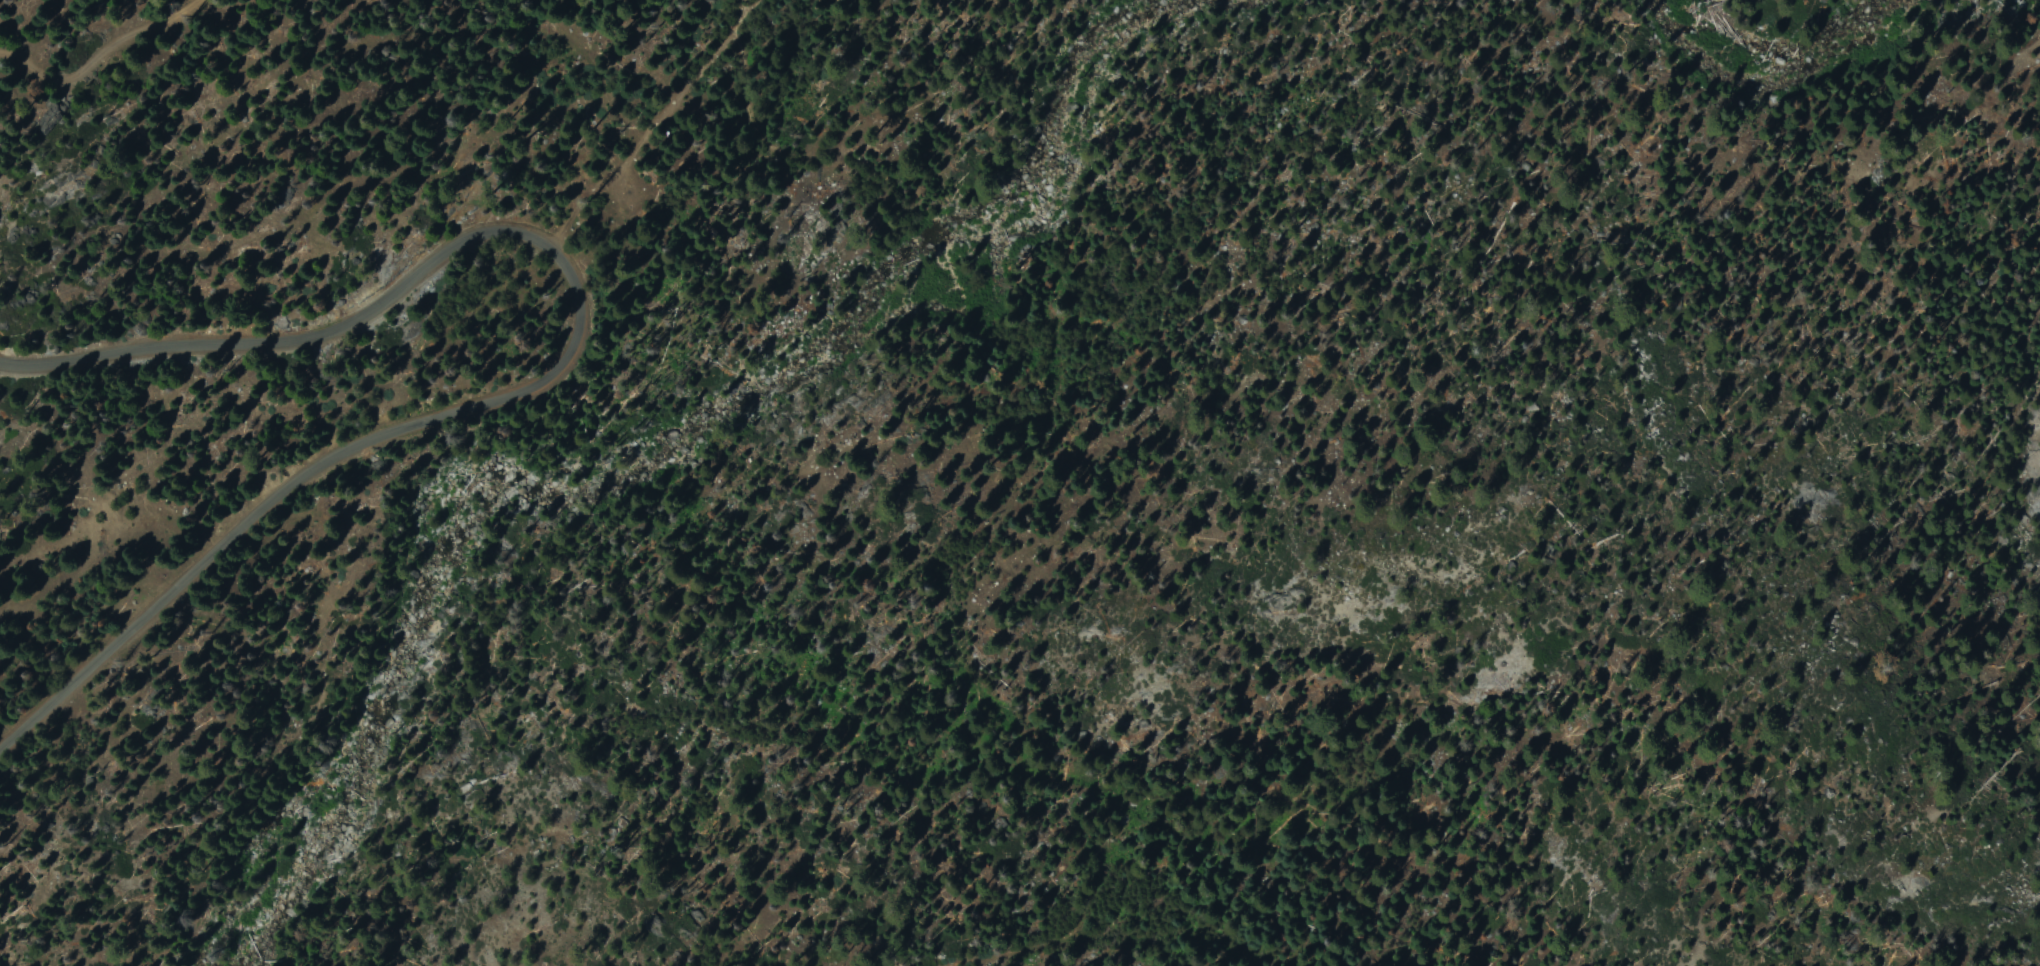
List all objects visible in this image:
road: (92, 64)
road: (700, 166)
road: (315, 331)
road: (284, 480)
road: (751, 943)

